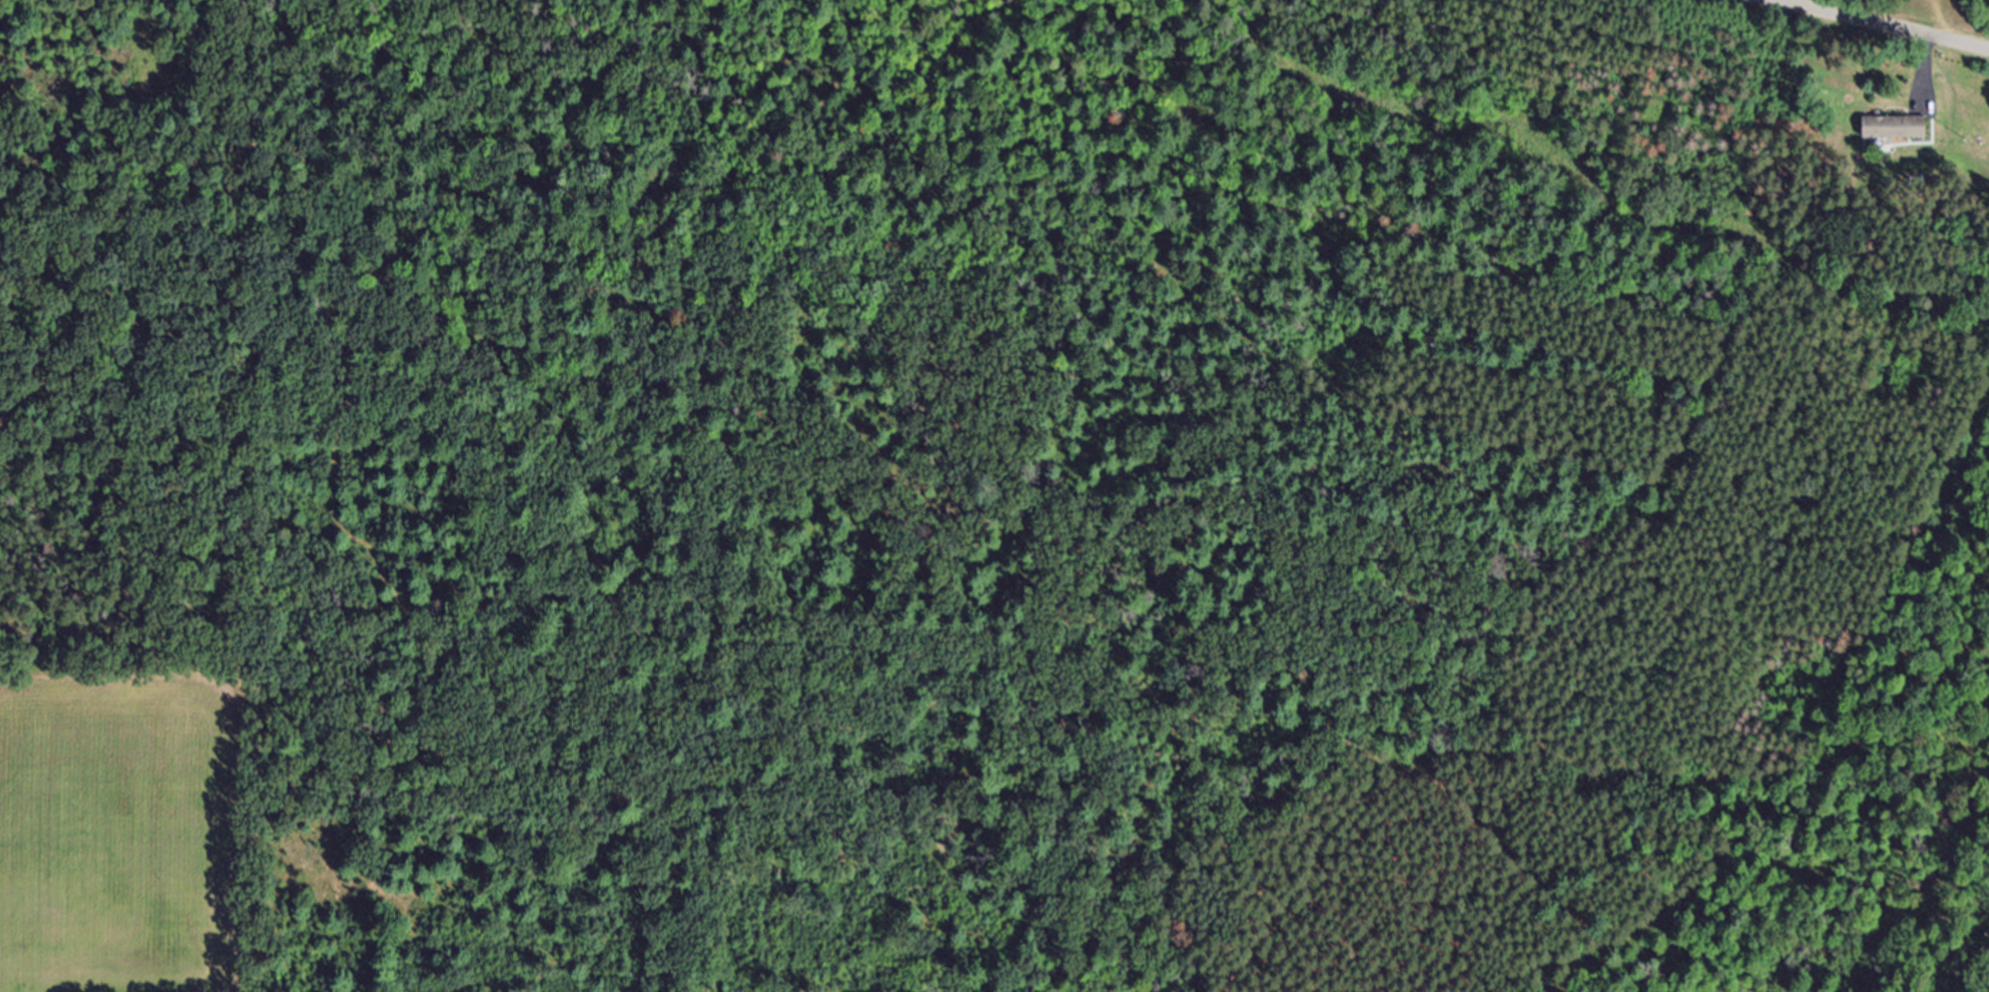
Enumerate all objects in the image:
road: (1884, 23)
building: (1897, 134)

